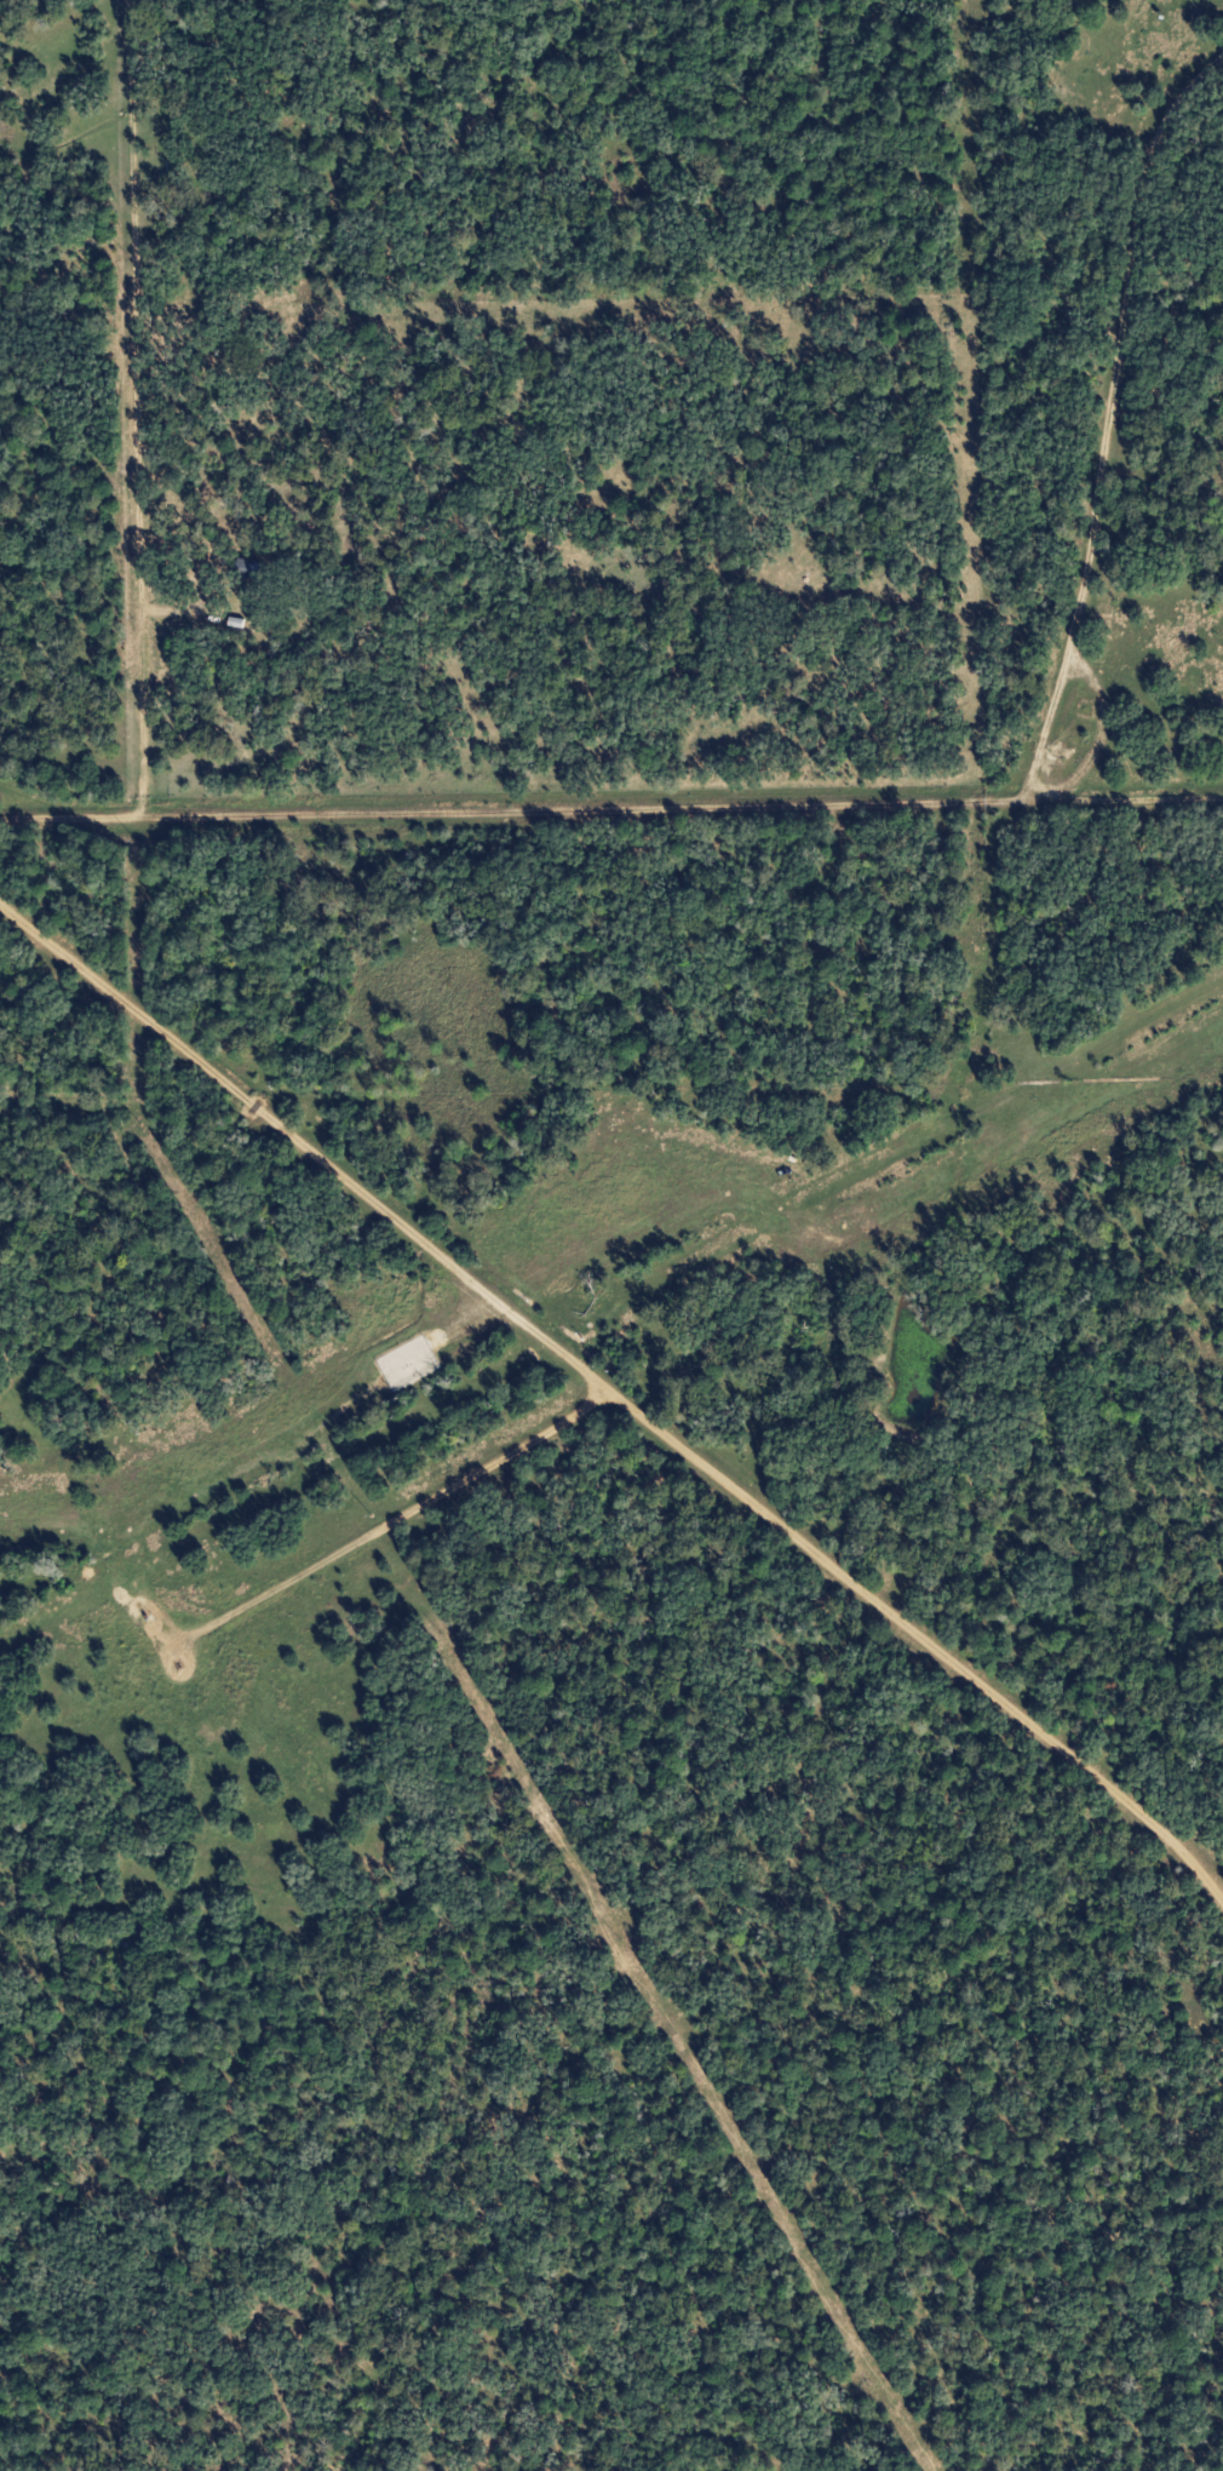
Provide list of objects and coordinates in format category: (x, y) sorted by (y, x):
road: (1106, 417)
building: (243, 568)
road: (611, 809)
road: (306, 1152)
road: (737, 1490)

